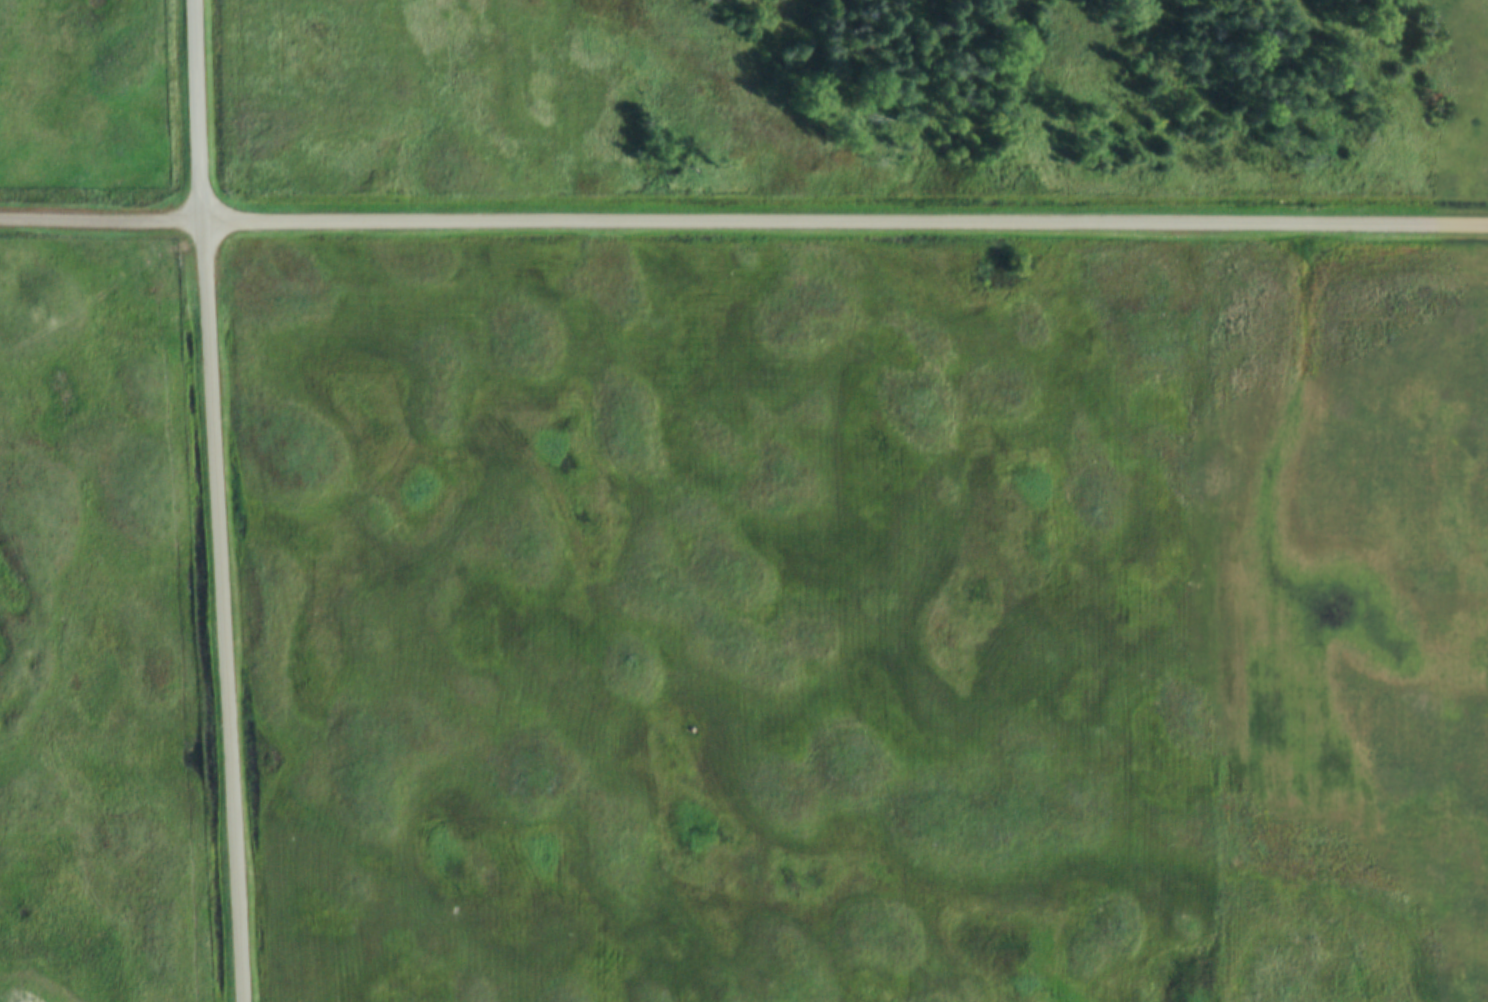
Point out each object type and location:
road: (743, 222)
road: (221, 501)

